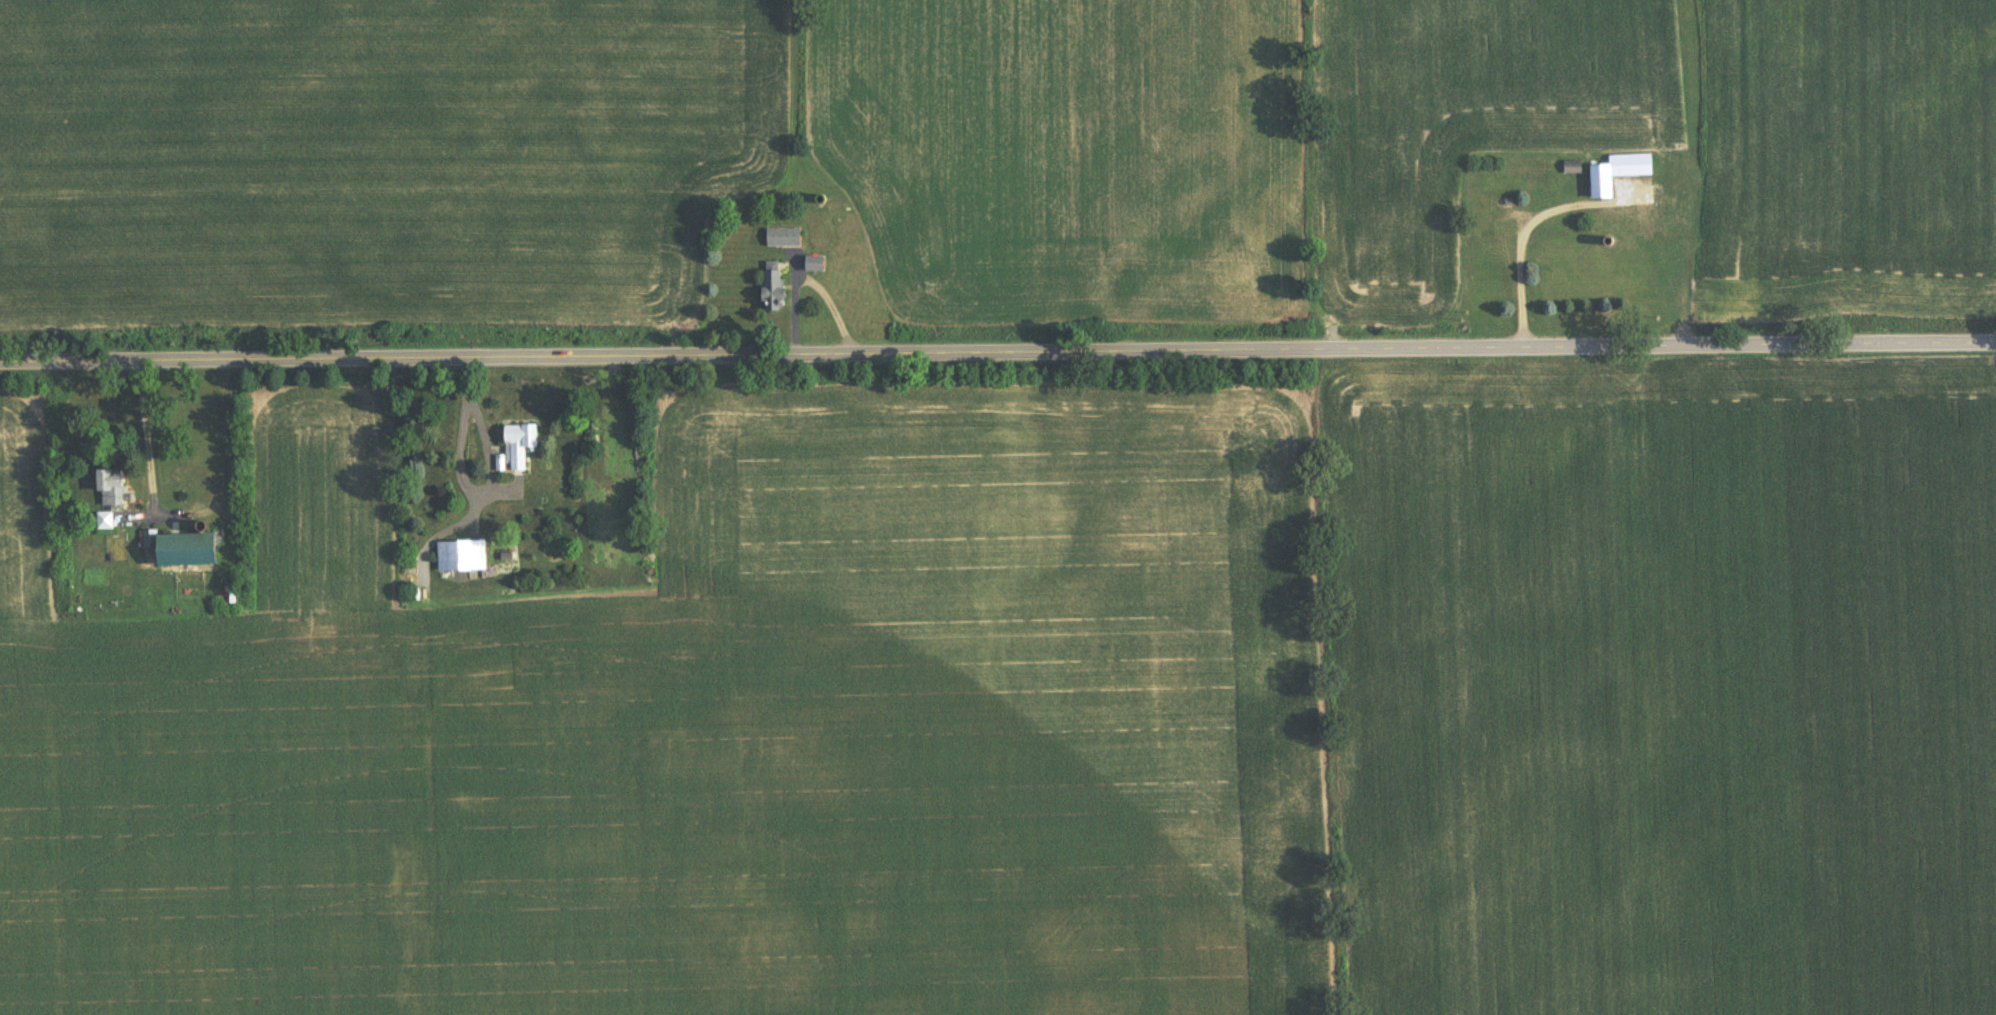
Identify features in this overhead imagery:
crop: (986, 167)
building: (1618, 174)
road: (1519, 232)
building: (784, 238)
building: (817, 264)
building: (775, 287)
road: (998, 345)
road: (148, 433)
building: (520, 446)
road: (489, 480)
building: (112, 489)
building: (105, 522)
building: (183, 550)
building: (462, 558)

